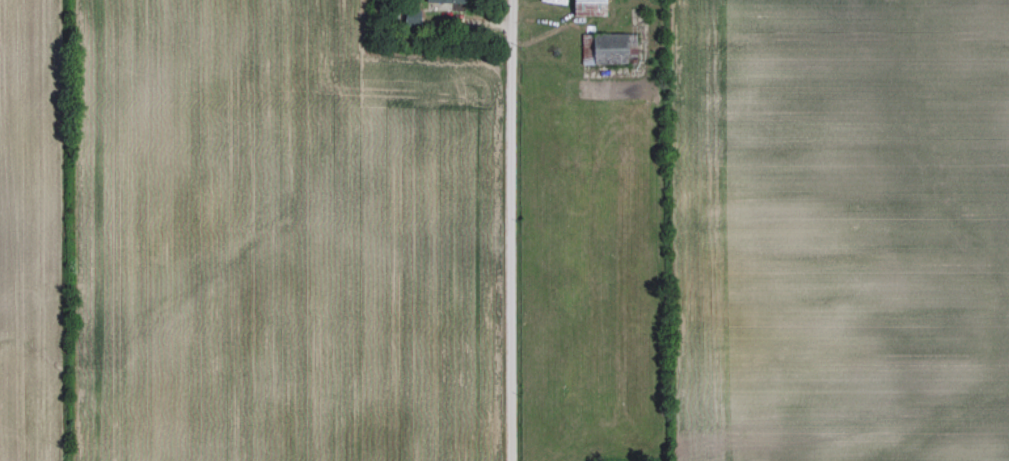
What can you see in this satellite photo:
building: (447, 0)
building: (587, 7)
building: (409, 14)
building: (611, 47)
road: (512, 230)

